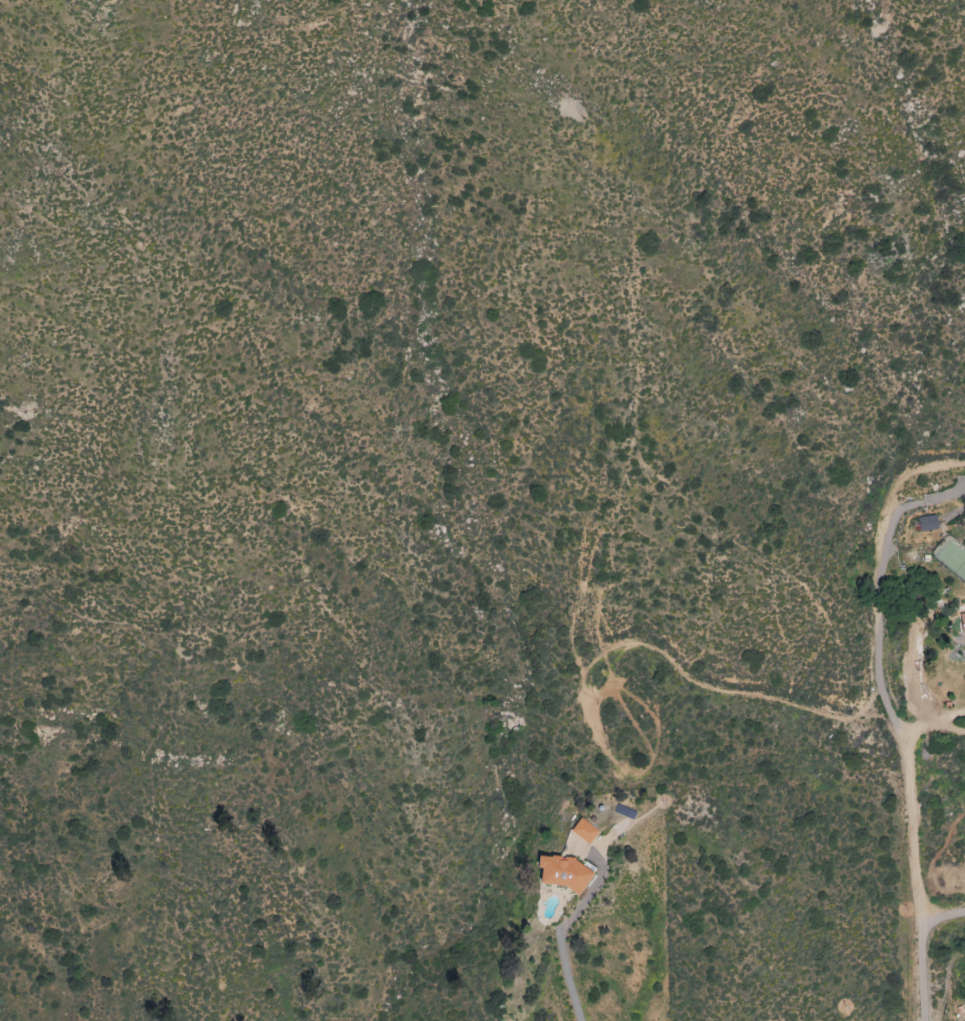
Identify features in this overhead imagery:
building: (927, 523)
road: (879, 594)
building: (962, 622)
road: (942, 719)
road: (950, 727)
building: (584, 831)
building: (562, 873)
road: (921, 874)
road: (943, 914)
road: (563, 956)

